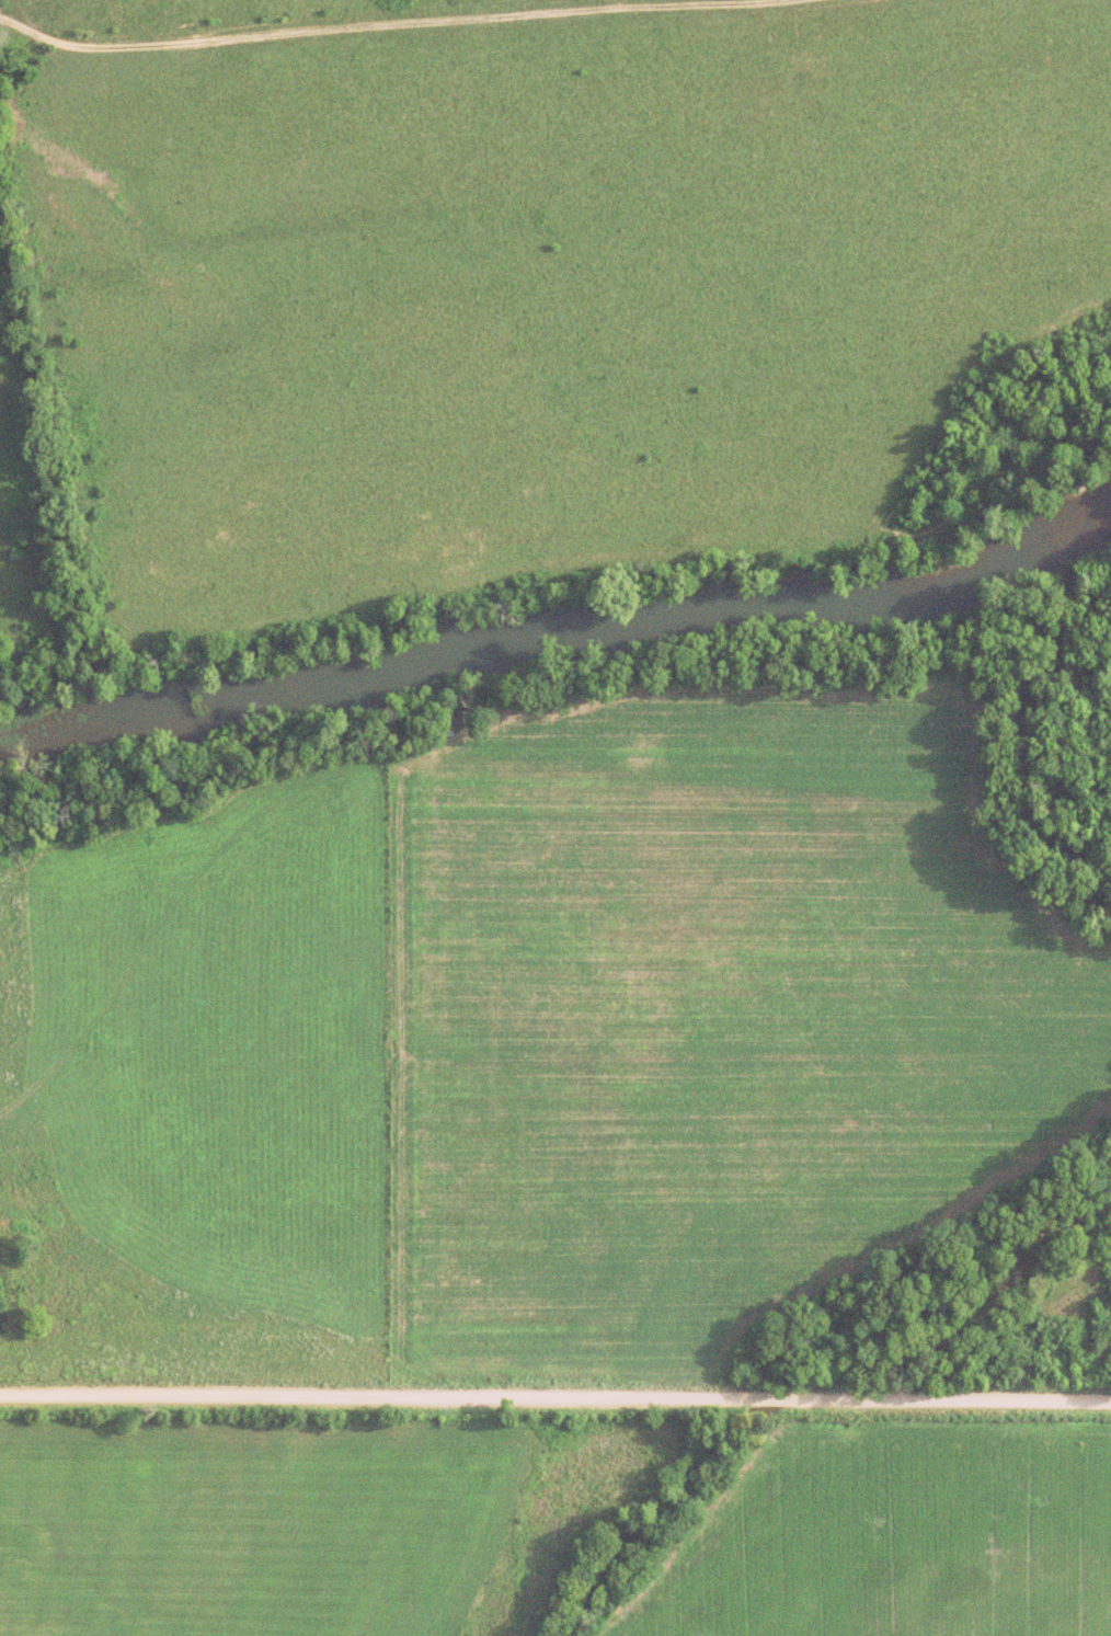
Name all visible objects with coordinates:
road: (554, 1398)

